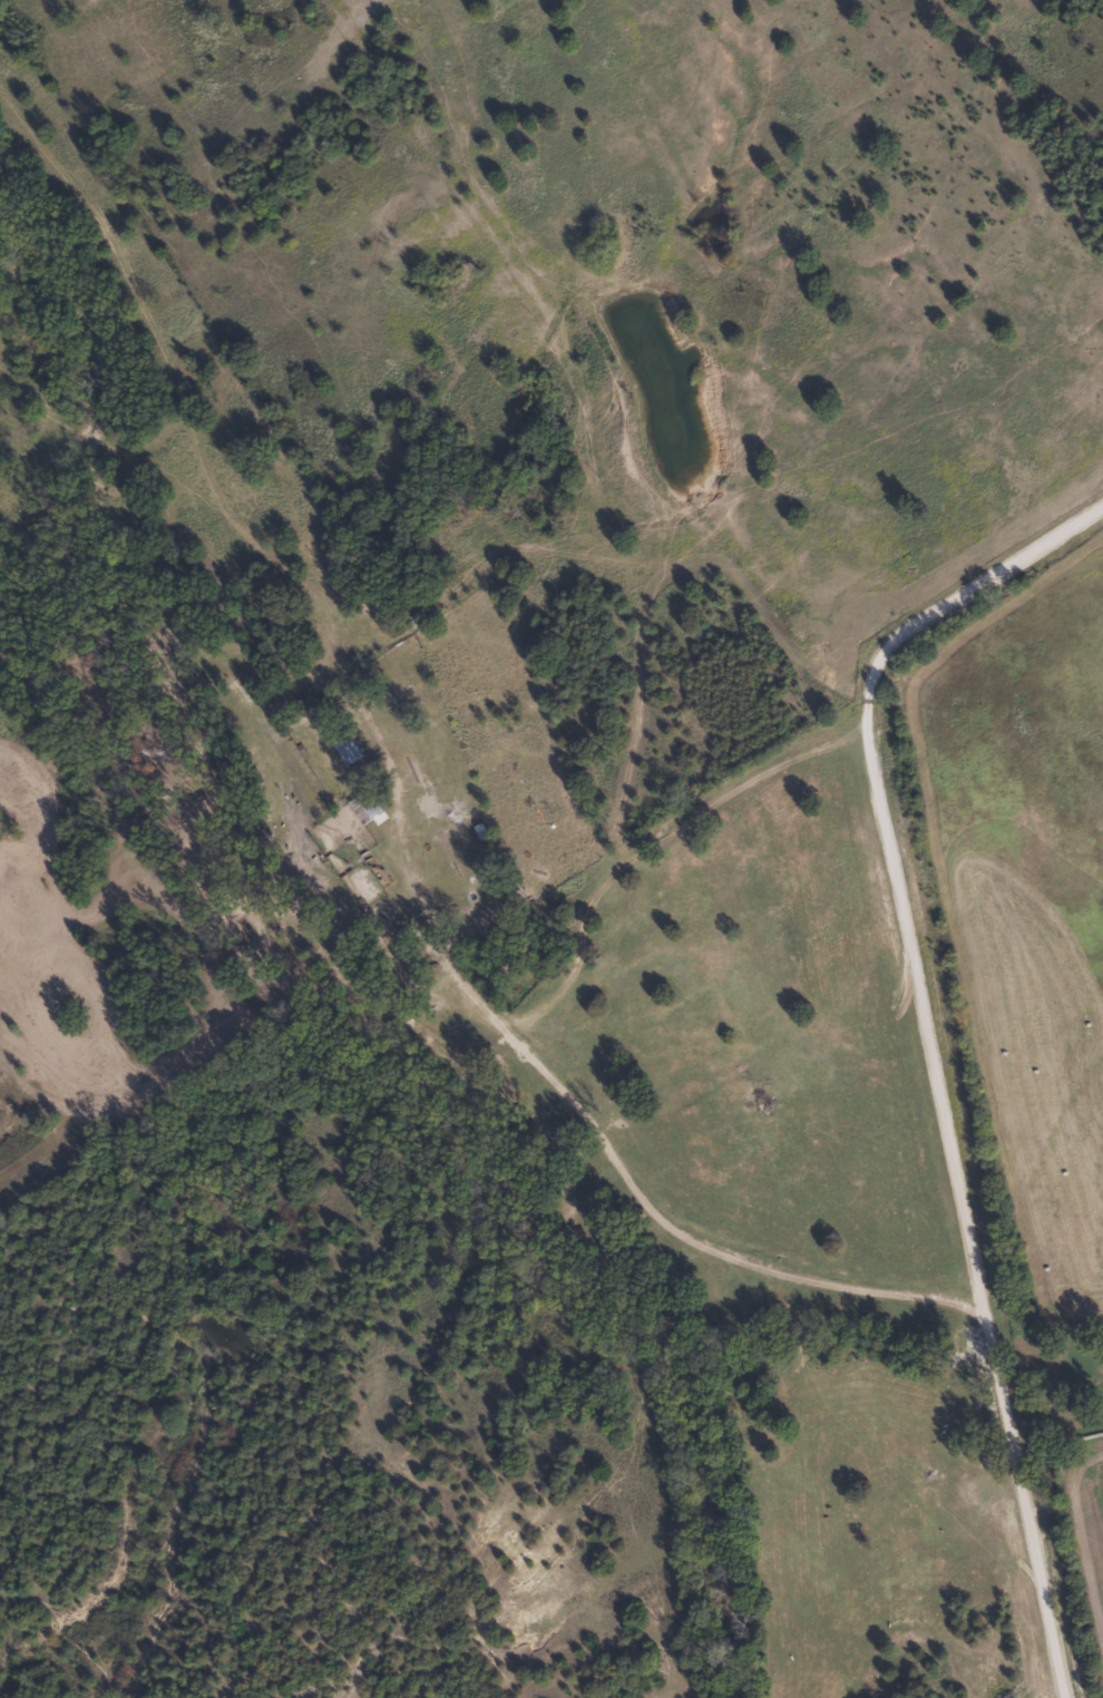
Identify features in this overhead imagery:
building: (345, 748)
building: (362, 806)
road: (852, 871)
road: (989, 1521)

